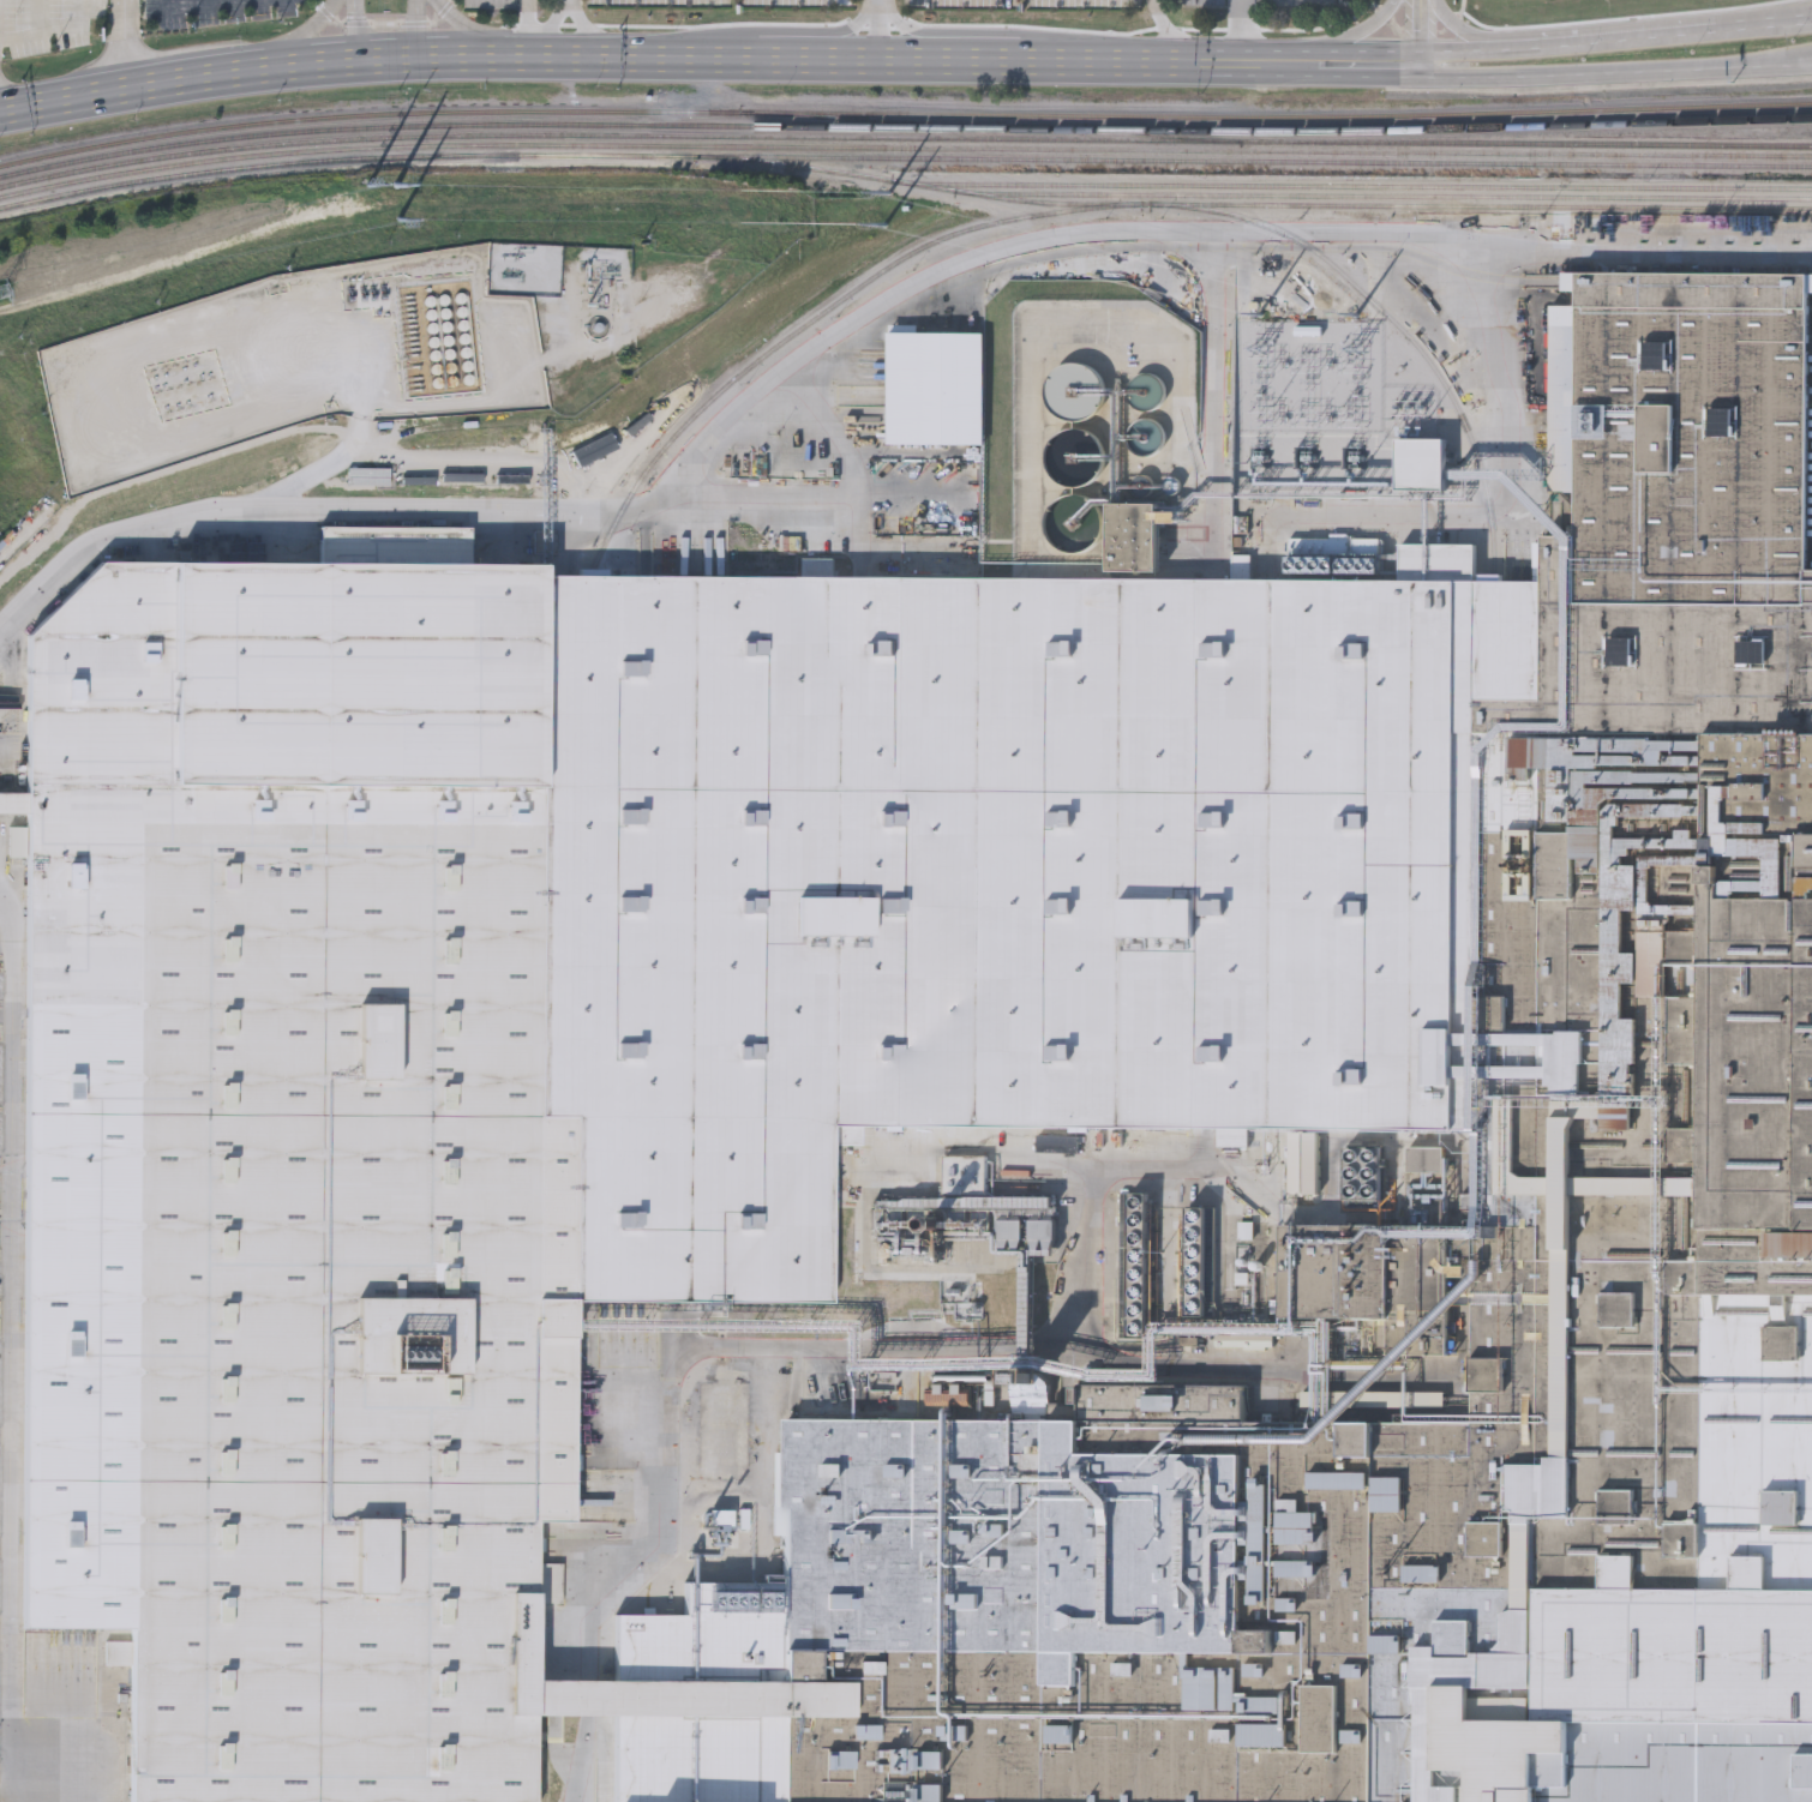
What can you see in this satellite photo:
road: (202, 4)
road: (1451, 26)
road: (416, 29)
road: (461, 29)
road: (565, 29)
road: (353, 30)
road: (876, 30)
road: (1163, 32)
road: (1241, 34)
road: (1415, 34)
road: (1645, 35)
road: (312, 36)
road: (1358, 36)
road: (124, 46)
road: (1, 55)
road: (1447, 58)
road: (655, 59)
road: (1366, 68)
road: (1613, 73)
railway: (904, 113)
railway: (862, 120)
railway: (904, 127)
railway: (1157, 134)
railway: (671, 136)
railway: (1579, 143)
railway: (865, 146)
railway: (1774, 155)
railway: (854, 157)
railway: (1763, 166)
railway: (928, 186)
railway: (1364, 186)
power tower: (366, 188)
power tower: (888, 192)
railway: (1393, 196)
railway: (1469, 208)
power tower: (884, 214)
power tower: (396, 221)
railway: (925, 244)
road: (1694, 252)
road: (1009, 258)
power tower: (2, 296)
power tower: (1260, 310)
power tower: (1355, 313)
building: (1121, 328)
railway: (1420, 354)
power substation: (1334, 396)
road: (1501, 412)
building: (1147, 416)
railway: (655, 452)
building: (1080, 456)
building: (86, 468)
road: (242, 504)
building: (1136, 534)
railway: (562, 836)
building: (919, 991)
building: (1036, 1131)
building: (1428, 1163)
road: (1175, 1167)
building: (1362, 1171)
building: (962, 1218)
building: (1136, 1266)
road: (1099, 1347)
road: (12, 1354)
road: (674, 1383)
road: (535, 1714)

